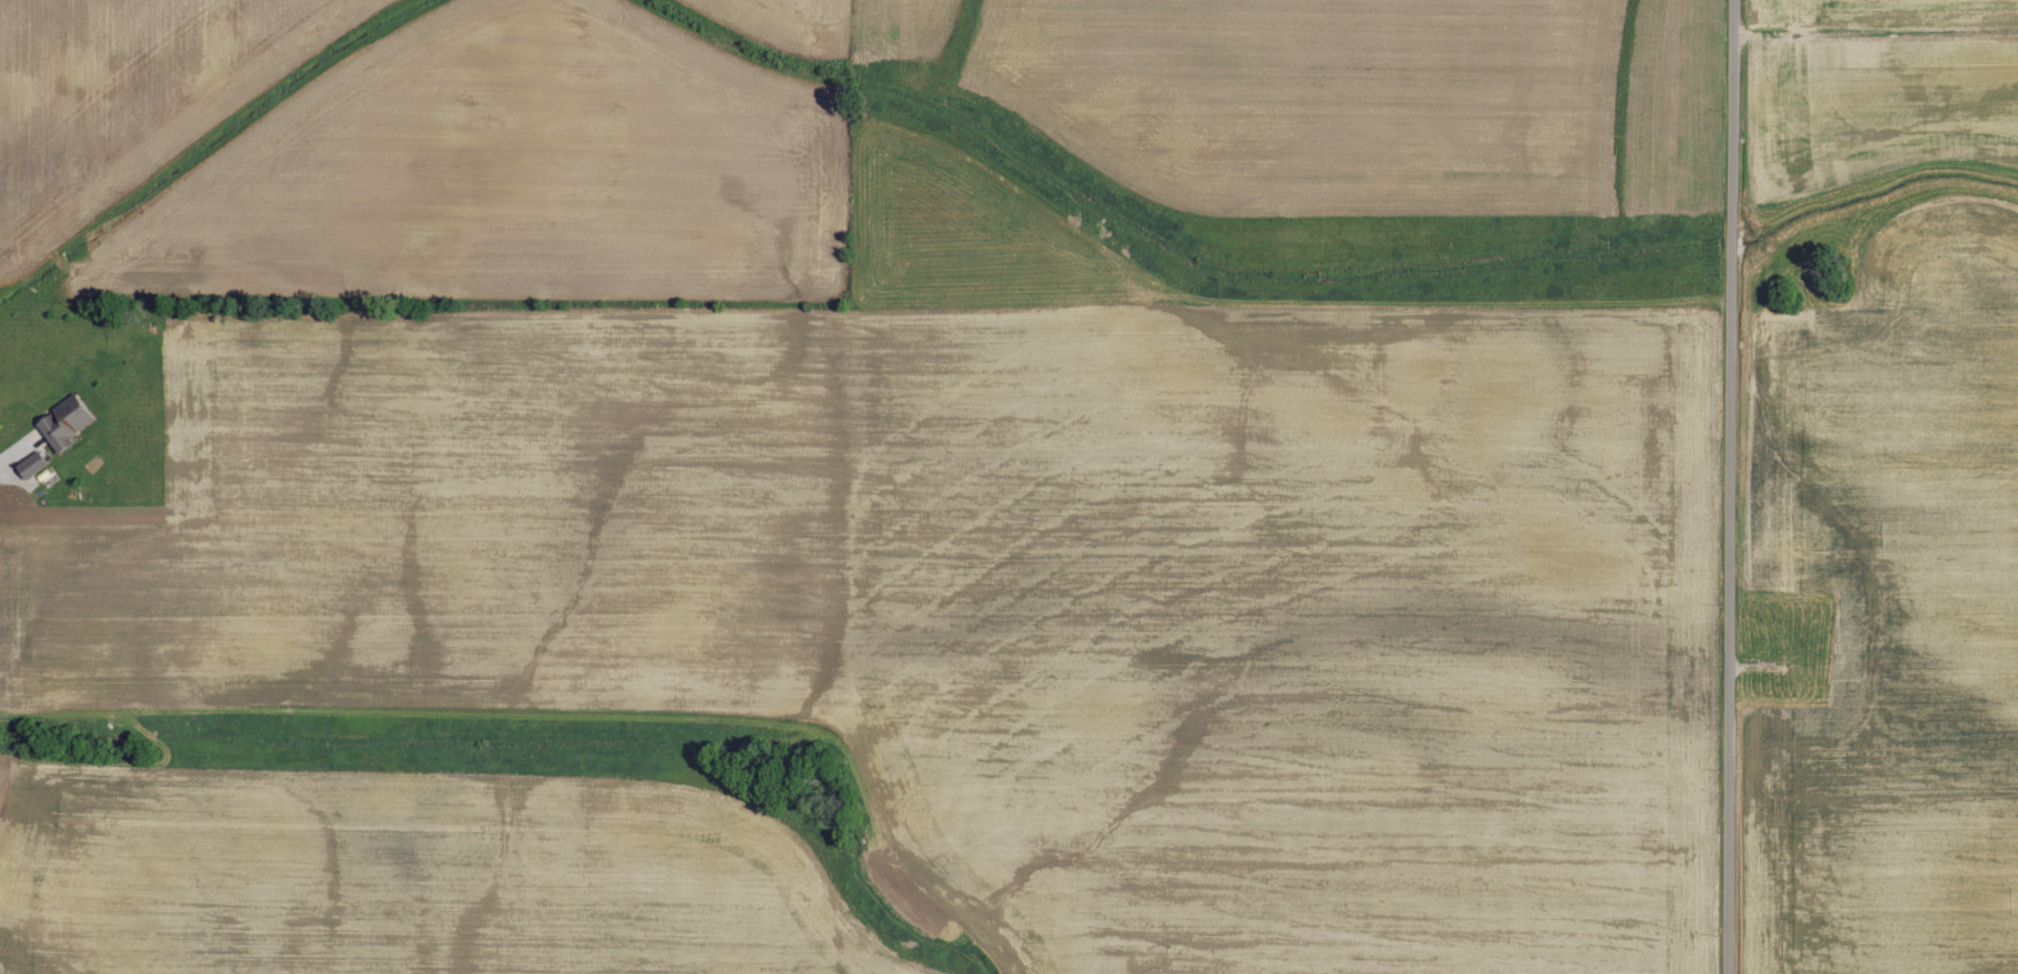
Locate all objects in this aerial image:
building: (30, 465)
road: (1732, 487)

